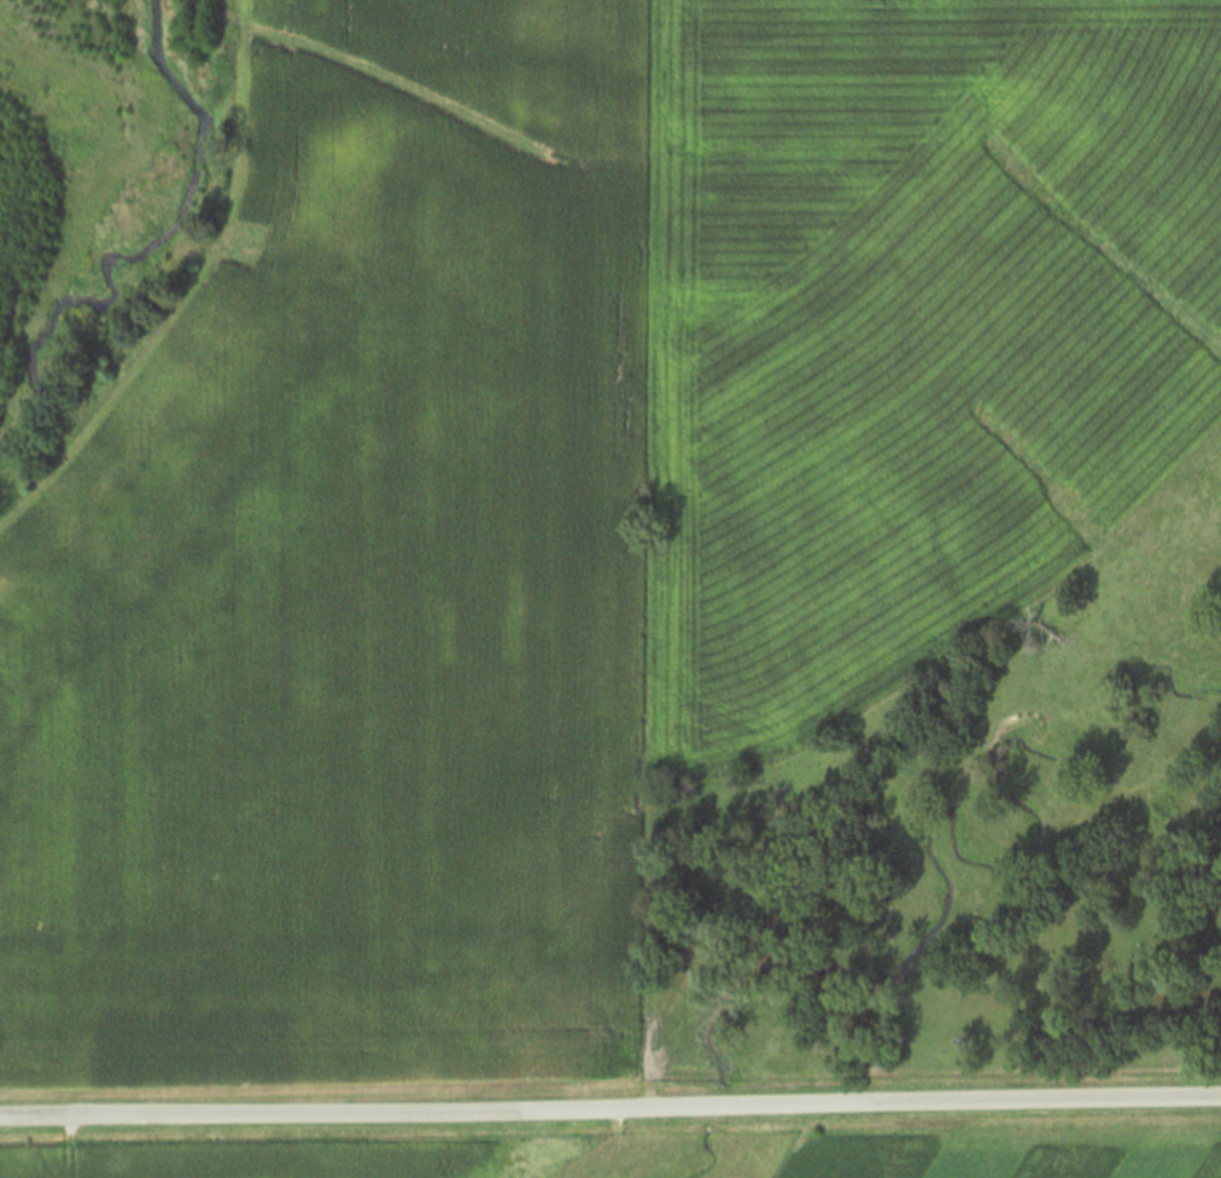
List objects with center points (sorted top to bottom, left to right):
road: (610, 1108)

